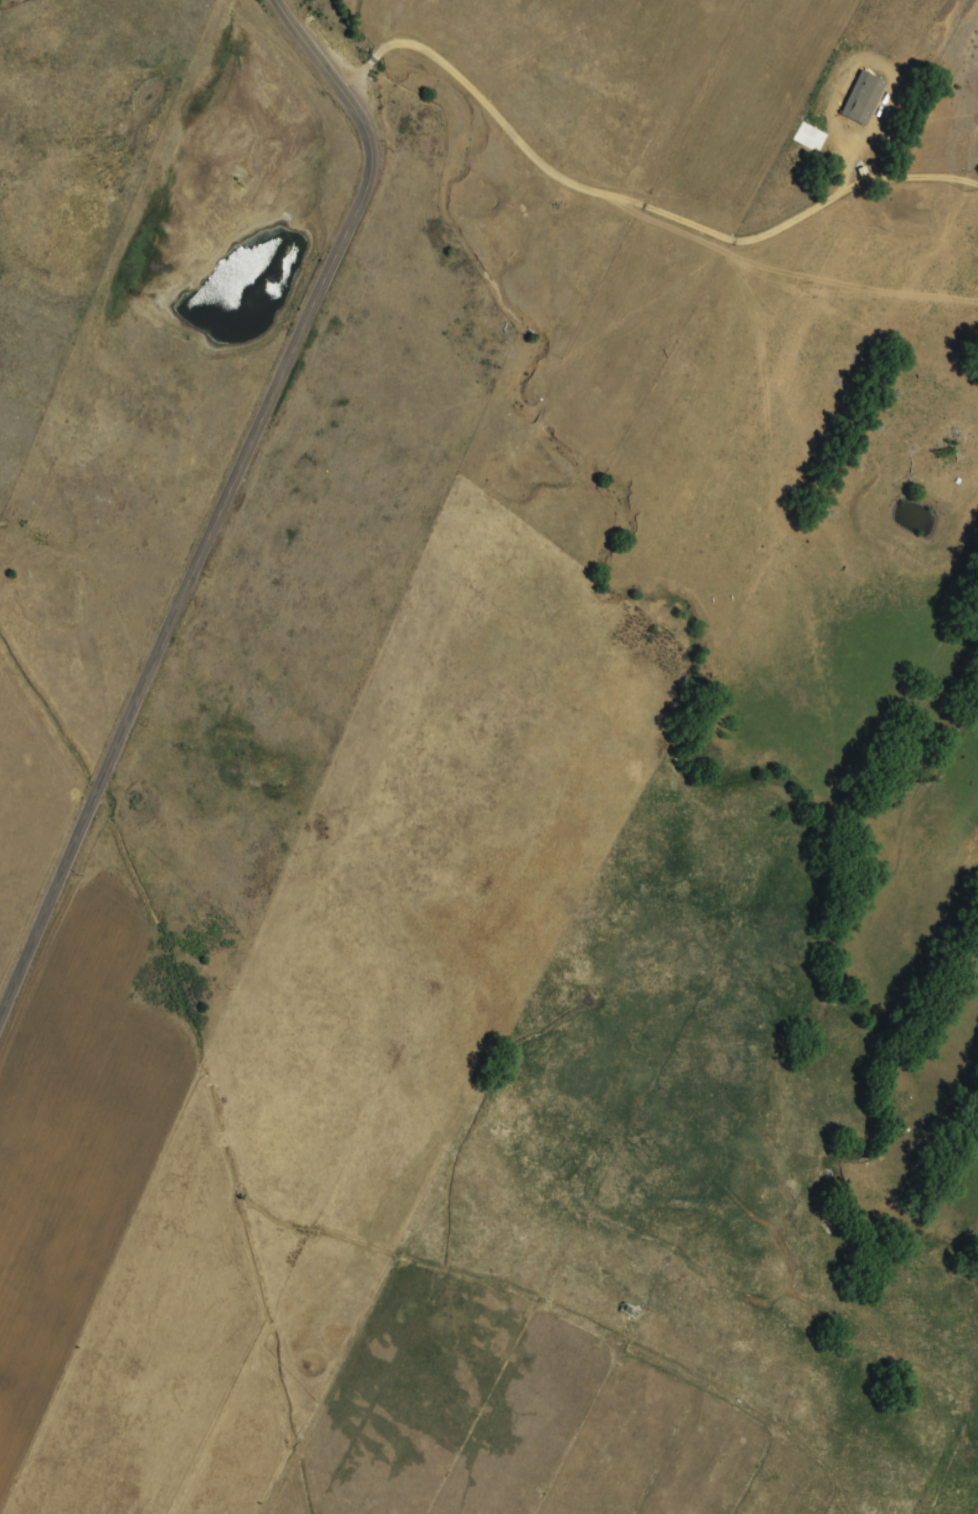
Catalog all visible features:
road: (48, 14)
road: (222, 499)
building: (630, 1312)

